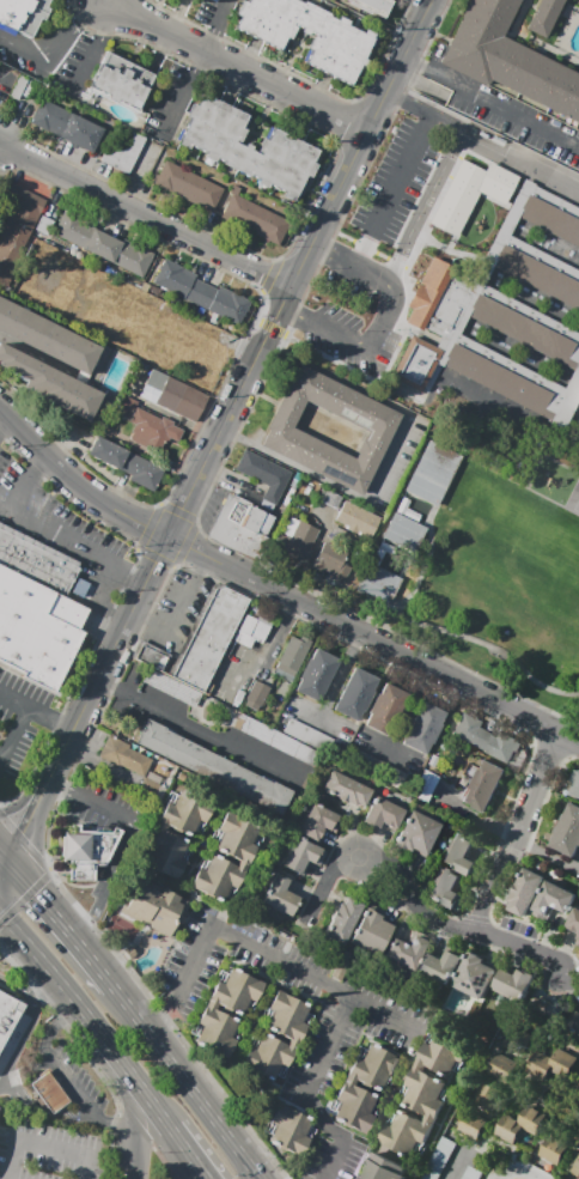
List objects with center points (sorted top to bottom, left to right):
road: (104, 0)
building: (574, 1)
building: (373, 6)
parking lot: (220, 13)
building: (23, 16)
building: (537, 18)
road: (54, 36)
building: (342, 44)
road: (95, 47)
parking lot: (24, 56)
building: (504, 60)
parking lot: (79, 66)
road: (238, 66)
road: (196, 67)
building: (121, 81)
building: (18, 86)
road: (425, 86)
building: (30, 90)
parking lot: (172, 102)
road: (492, 103)
building: (66, 124)
road: (365, 145)
road: (452, 146)
building: (246, 147)
road: (415, 147)
building: (122, 154)
parking lot: (398, 170)
building: (189, 187)
building: (469, 194)
building: (252, 218)
road: (146, 219)
building: (14, 225)
building: (100, 245)
flagpole: (412, 255)
building: (200, 291)
building: (496, 299)
parking lot: (351, 314)
road: (385, 323)
road: (266, 332)
road: (36, 354)
building: (72, 354)
building: (176, 396)
road: (230, 406)
road: (2, 421)
building: (147, 424)
road: (468, 433)
building: (285, 438)
road: (384, 455)
road: (38, 461)
road: (53, 462)
building: (127, 463)
building: (431, 469)
building: (262, 476)
road: (191, 488)
road: (24, 492)
park: (577, 505)
parking lot: (215, 510)
building: (355, 519)
road: (139, 524)
building: (240, 528)
parking lot: (63, 531)
building: (403, 534)
building: (299, 541)
road: (73, 547)
road: (193, 553)
building: (329, 561)
park: (501, 573)
building: (376, 578)
parking lot: (177, 609)
building: (39, 610)
road: (152, 628)
building: (250, 630)
road: (470, 638)
building: (211, 639)
building: (293, 652)
road: (398, 655)
building: (151, 656)
road: (268, 666)
road: (108, 667)
building: (318, 675)
road: (336, 681)
building: (171, 687)
building: (258, 693)
building: (356, 693)
road: (14, 700)
building: (388, 710)
road: (51, 718)
parking lot: (18, 722)
parking lot: (10, 723)
building: (421, 728)
road: (199, 736)
road: (14, 737)
building: (483, 739)
building: (279, 741)
building: (123, 755)
building: (214, 766)
road: (57, 785)
building: (425, 785)
building: (481, 786)
building: (574, 786)
building: (348, 790)
road: (98, 807)
building: (384, 813)
building: (190, 815)
building: (318, 822)
road: (26, 828)
building: (420, 833)
building: (566, 833)
road: (518, 834)
traffic signals: (24, 835)
building: (242, 839)
building: (90, 849)
building: (300, 855)
building: (171, 856)
building: (462, 856)
road: (5, 859)
road: (392, 867)
road: (5, 868)
building: (223, 880)
road: (103, 883)
building: (447, 889)
building: (528, 892)
traffic signals: (36, 894)
building: (281, 897)
building: (554, 900)
building: (156, 907)
building: (347, 919)
building: (577, 920)
road: (62, 926)
park: (126, 928)
building: (371, 931)
building: (578, 938)
road: (522, 947)
building: (406, 952)
building: (439, 966)
road: (187, 971)
building: (339, 974)
building: (473, 976)
road: (313, 977)
building: (512, 983)
road: (14, 989)
road: (43, 990)
building: (237, 992)
parking lot: (376, 1008)
building: (8, 1016)
road: (89, 1017)
building: (288, 1019)
road: (157, 1026)
building: (578, 1031)
building: (218, 1034)
building: (517, 1037)
road: (18, 1038)
building: (446, 1056)
building: (268, 1058)
building: (562, 1063)
building: (540, 1064)
building: (502, 1066)
building: (376, 1069)
road: (62, 1075)
road: (187, 1084)
building: (578, 1086)
road: (309, 1090)
building: (427, 1092)
building: (51, 1094)
building: (488, 1095)
road: (132, 1096)
fountain: (391, 1102)
building: (355, 1110)
building: (1, 1114)
building: (530, 1117)
building: (471, 1123)
building: (511, 1129)
road: (141, 1130)
building: (291, 1131)
building: (407, 1134)
building: (578, 1136)
road: (50, 1147)
building: (551, 1149)
road: (188, 1153)
road: (130, 1155)
road: (13, 1159)
building: (437, 1159)
parking lot: (453, 1159)
road: (163, 1161)
road: (456, 1162)
park: (159, 1165)
building: (575, 1166)
road: (77, 1167)
building: (382, 1168)
road: (516, 1168)
building: (469, 1173)

